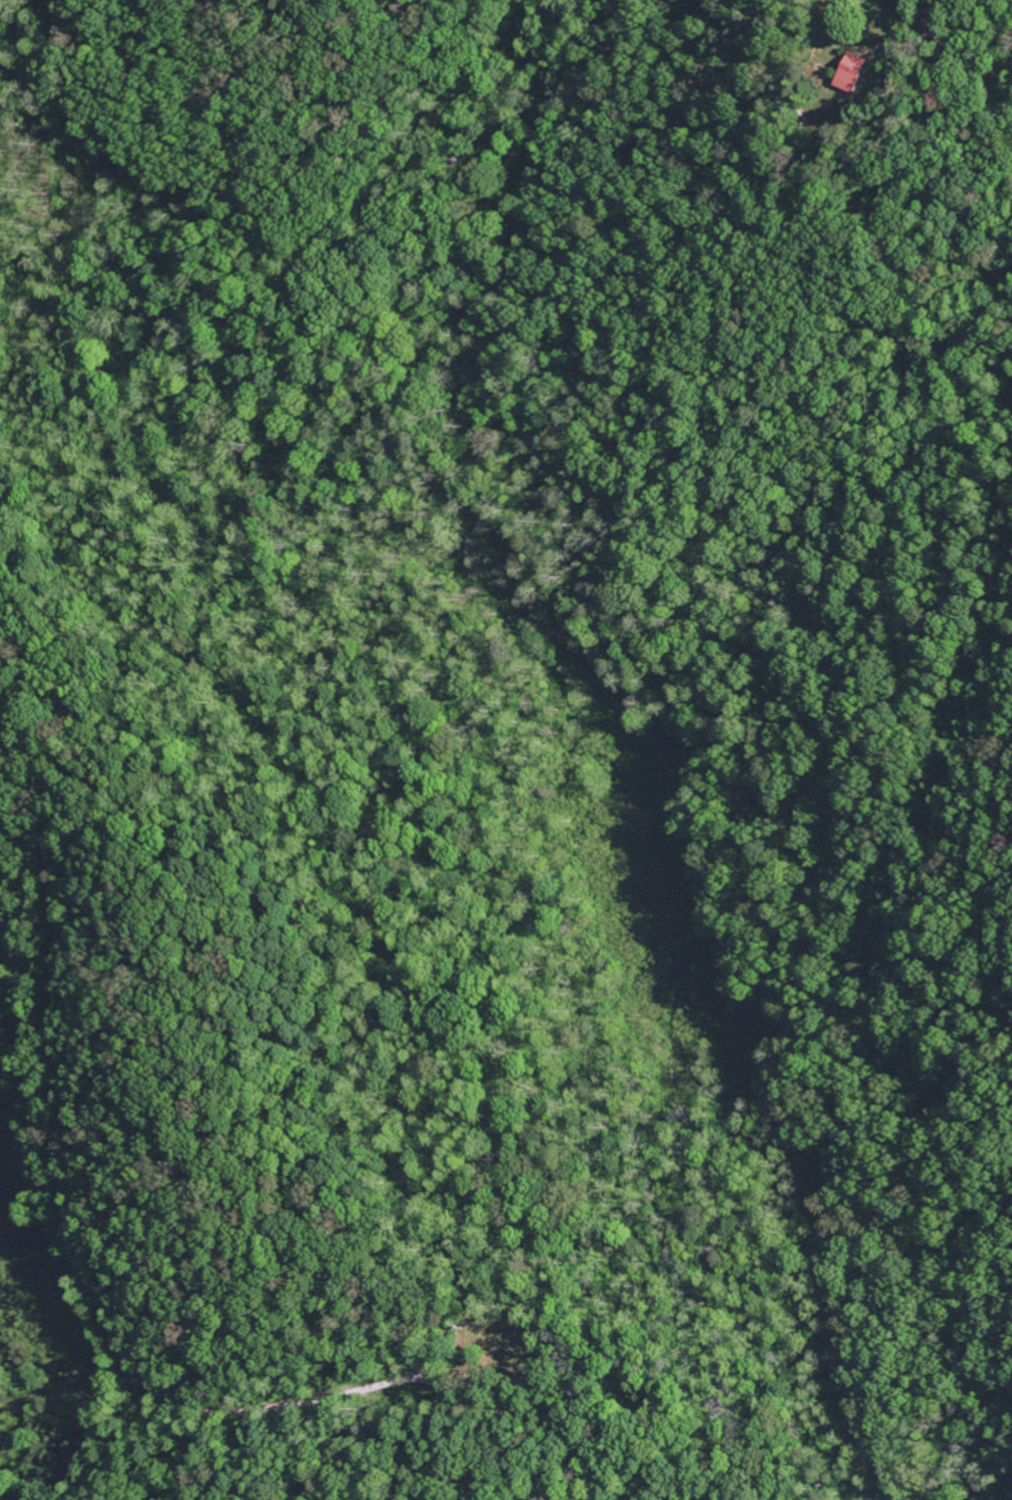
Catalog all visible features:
road: (1003, 5)
building: (849, 74)
road: (91, 1297)
park: (501, 1344)

